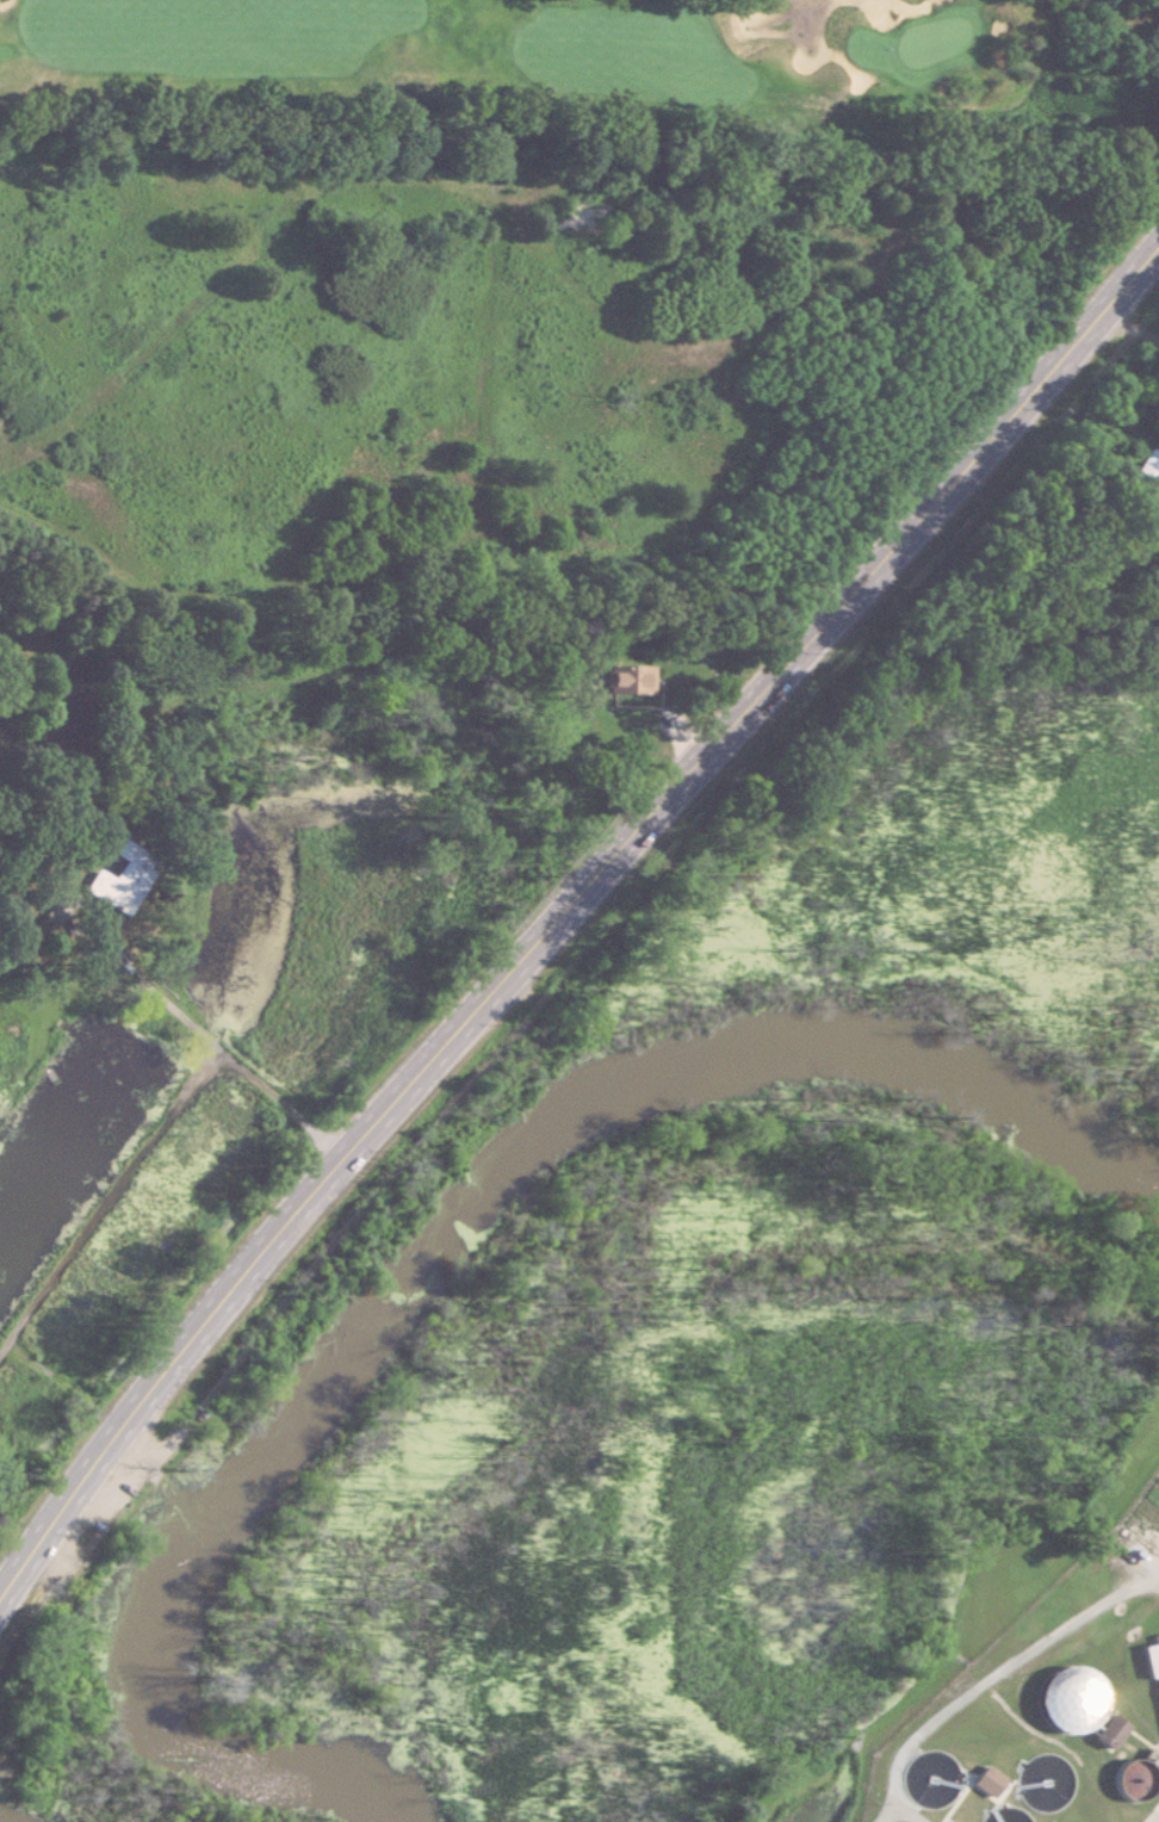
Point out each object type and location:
park: (928, 45)
road: (1040, 62)
road: (1124, 329)
building: (1143, 464)
building: (627, 678)
building: (118, 880)
road: (566, 905)
road: (224, 1055)
road: (111, 1204)
river: (436, 1252)
building: (1152, 1660)
wastewater plant: (1012, 1673)
building: (1070, 1700)
building: (1110, 1733)
building: (1139, 1779)
building: (987, 1780)
building: (931, 1784)
building: (1006, 1816)

